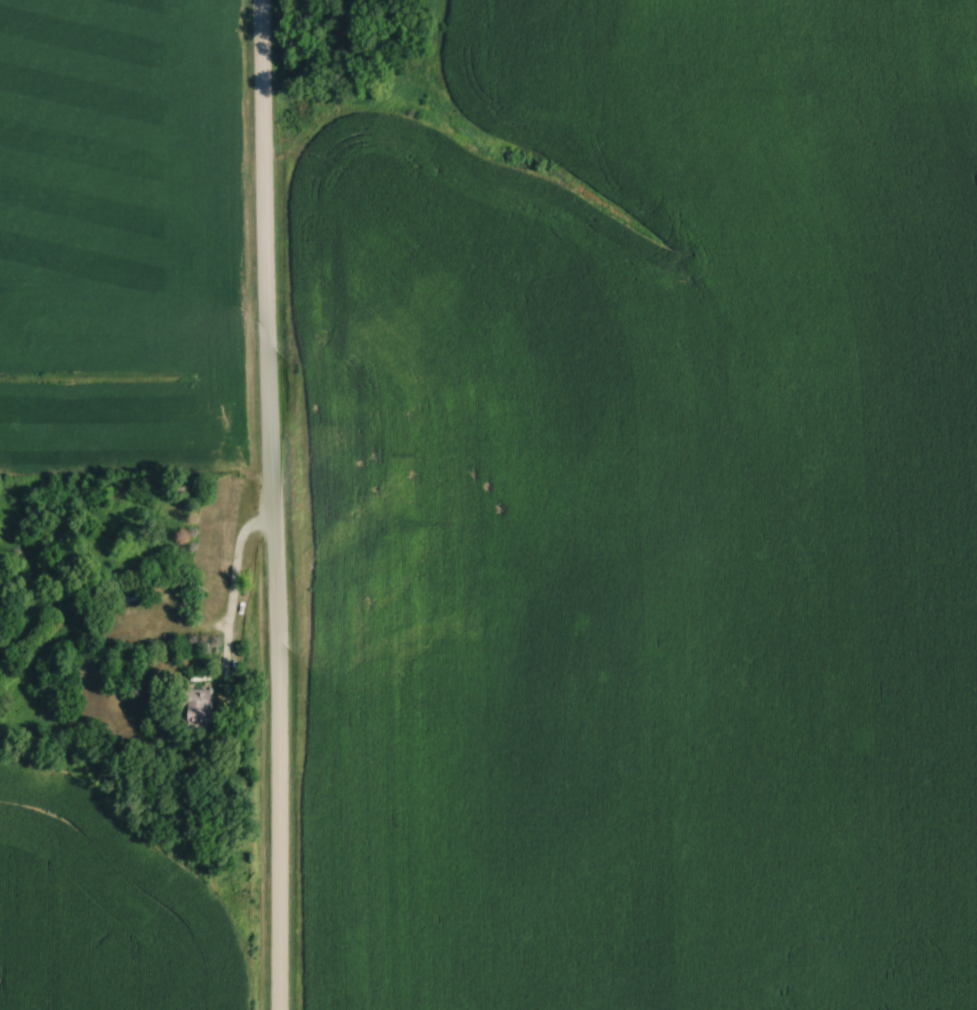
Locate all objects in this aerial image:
road: (271, 504)
road: (230, 642)
building: (64, 685)
building: (205, 708)

